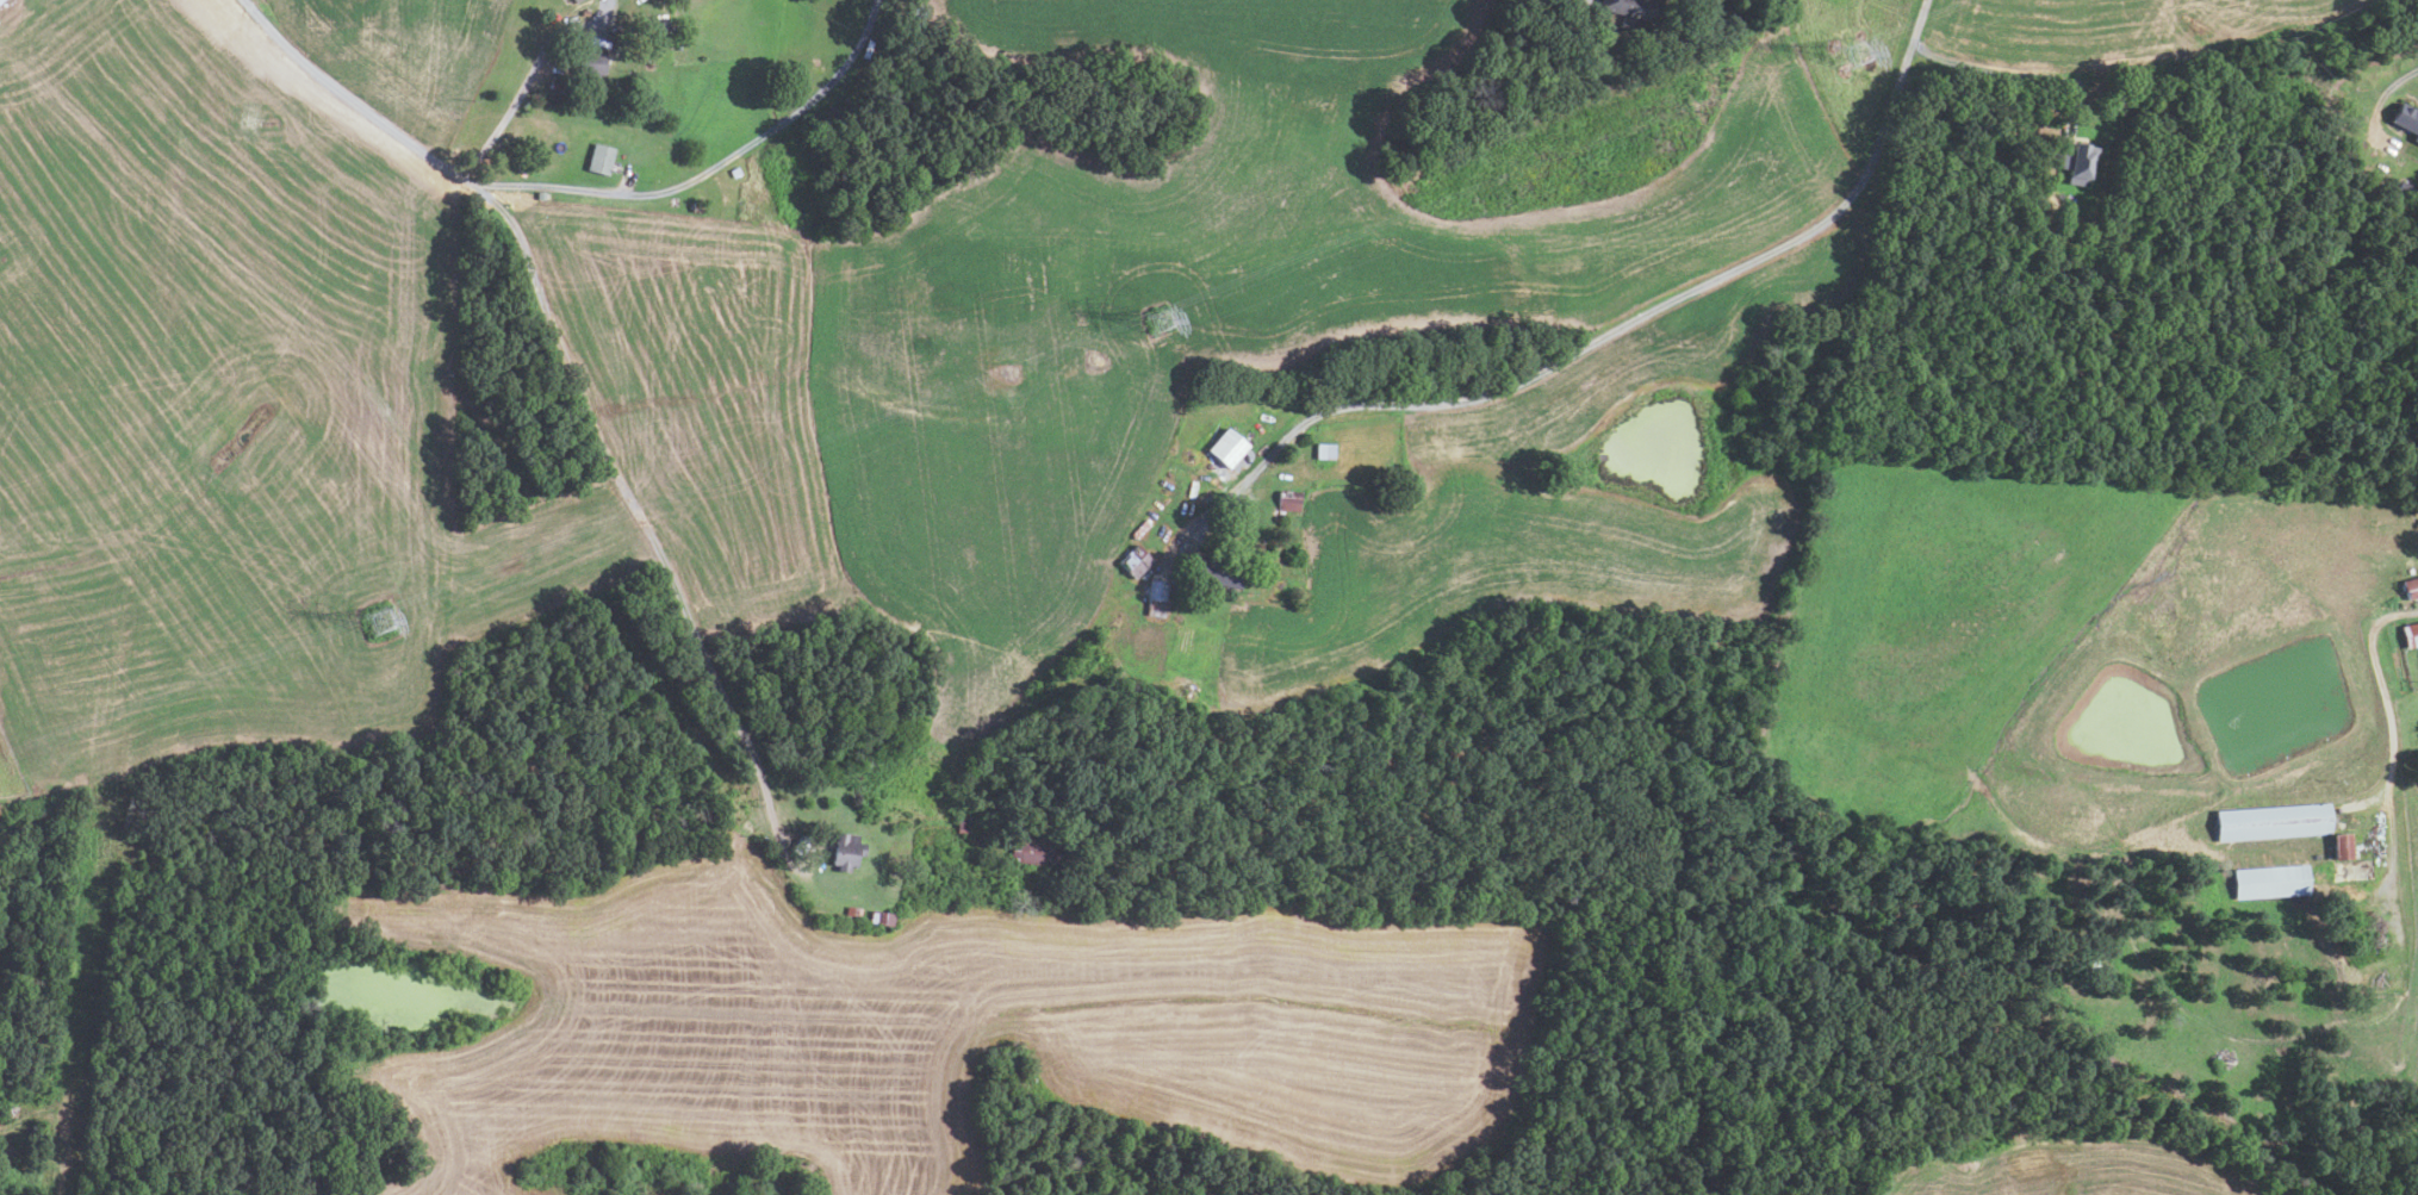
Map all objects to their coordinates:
building: (0, 0)
building: (571, 0)
building: (576, 1)
building: (1633, 12)
building: (919, 14)
building: (664, 26)
crop: (2115, 27)
power tower: (1850, 50)
crop: (404, 55)
building: (590, 63)
road: (2013, 71)
road: (527, 79)
road: (343, 93)
road: (2398, 93)
building: (2406, 119)
building: (601, 160)
building: (2081, 163)
building: (735, 173)
road: (701, 175)
building: (541, 197)
building: (697, 207)
crop: (1198, 295)
power tower: (1158, 325)
road: (1618, 326)
crop: (700, 398)
crop: (231, 411)
building: (1229, 446)
building: (1325, 449)
road: (629, 500)
building: (1289, 500)
crop: (1541, 503)
building: (2417, 522)
building: (1187, 549)
building: (1136, 560)
building: (1219, 572)
building: (2411, 587)
building: (1157, 595)
power tower: (381, 622)
crop: (1943, 627)
building: (2411, 635)
crop: (0, 804)
building: (963, 822)
building: (2273, 822)
building: (801, 845)
building: (2344, 845)
building: (847, 851)
building: (1045, 851)
building: (2271, 880)
building: (853, 910)
building: (882, 917)
crop: (964, 1029)
road: (26, 1118)

